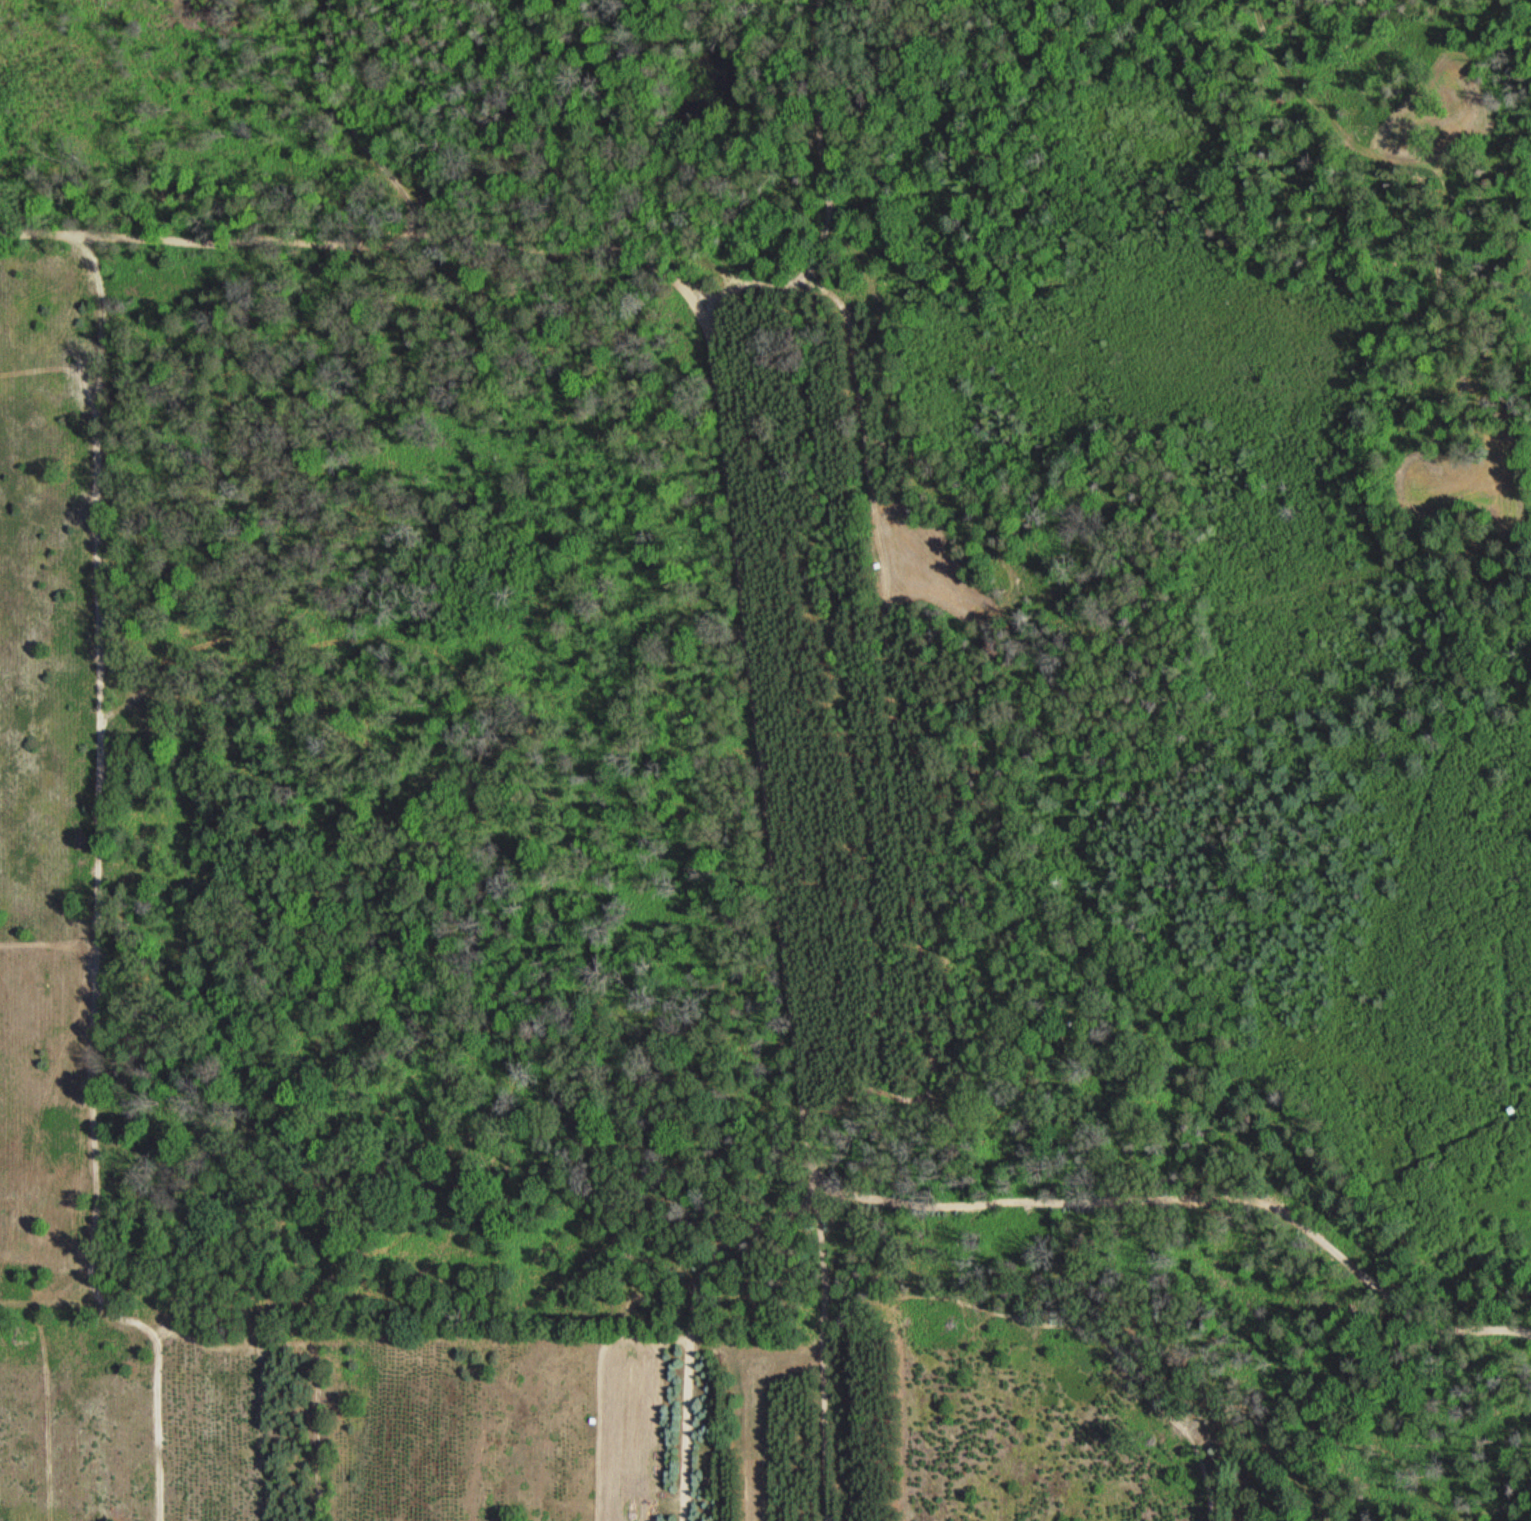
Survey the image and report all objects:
road: (354, 123)
road: (210, 239)

